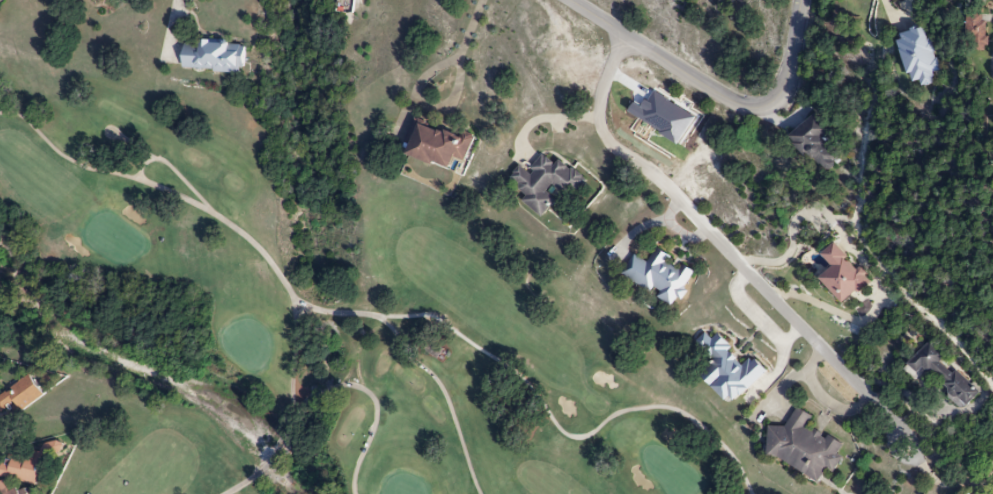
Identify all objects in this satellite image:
building: (344, 6)
road: (911, 7)
road: (171, 25)
road: (471, 28)
building: (974, 32)
building: (916, 56)
building: (211, 57)
road: (715, 92)
road: (423, 105)
road: (548, 120)
building: (435, 145)
building: (816, 146)
building: (544, 184)
road: (724, 247)
building: (841, 276)
building: (658, 277)
building: (727, 370)
building: (939, 373)
building: (19, 396)
building: (803, 448)
building: (28, 465)
building: (3, 484)
road: (941, 484)

